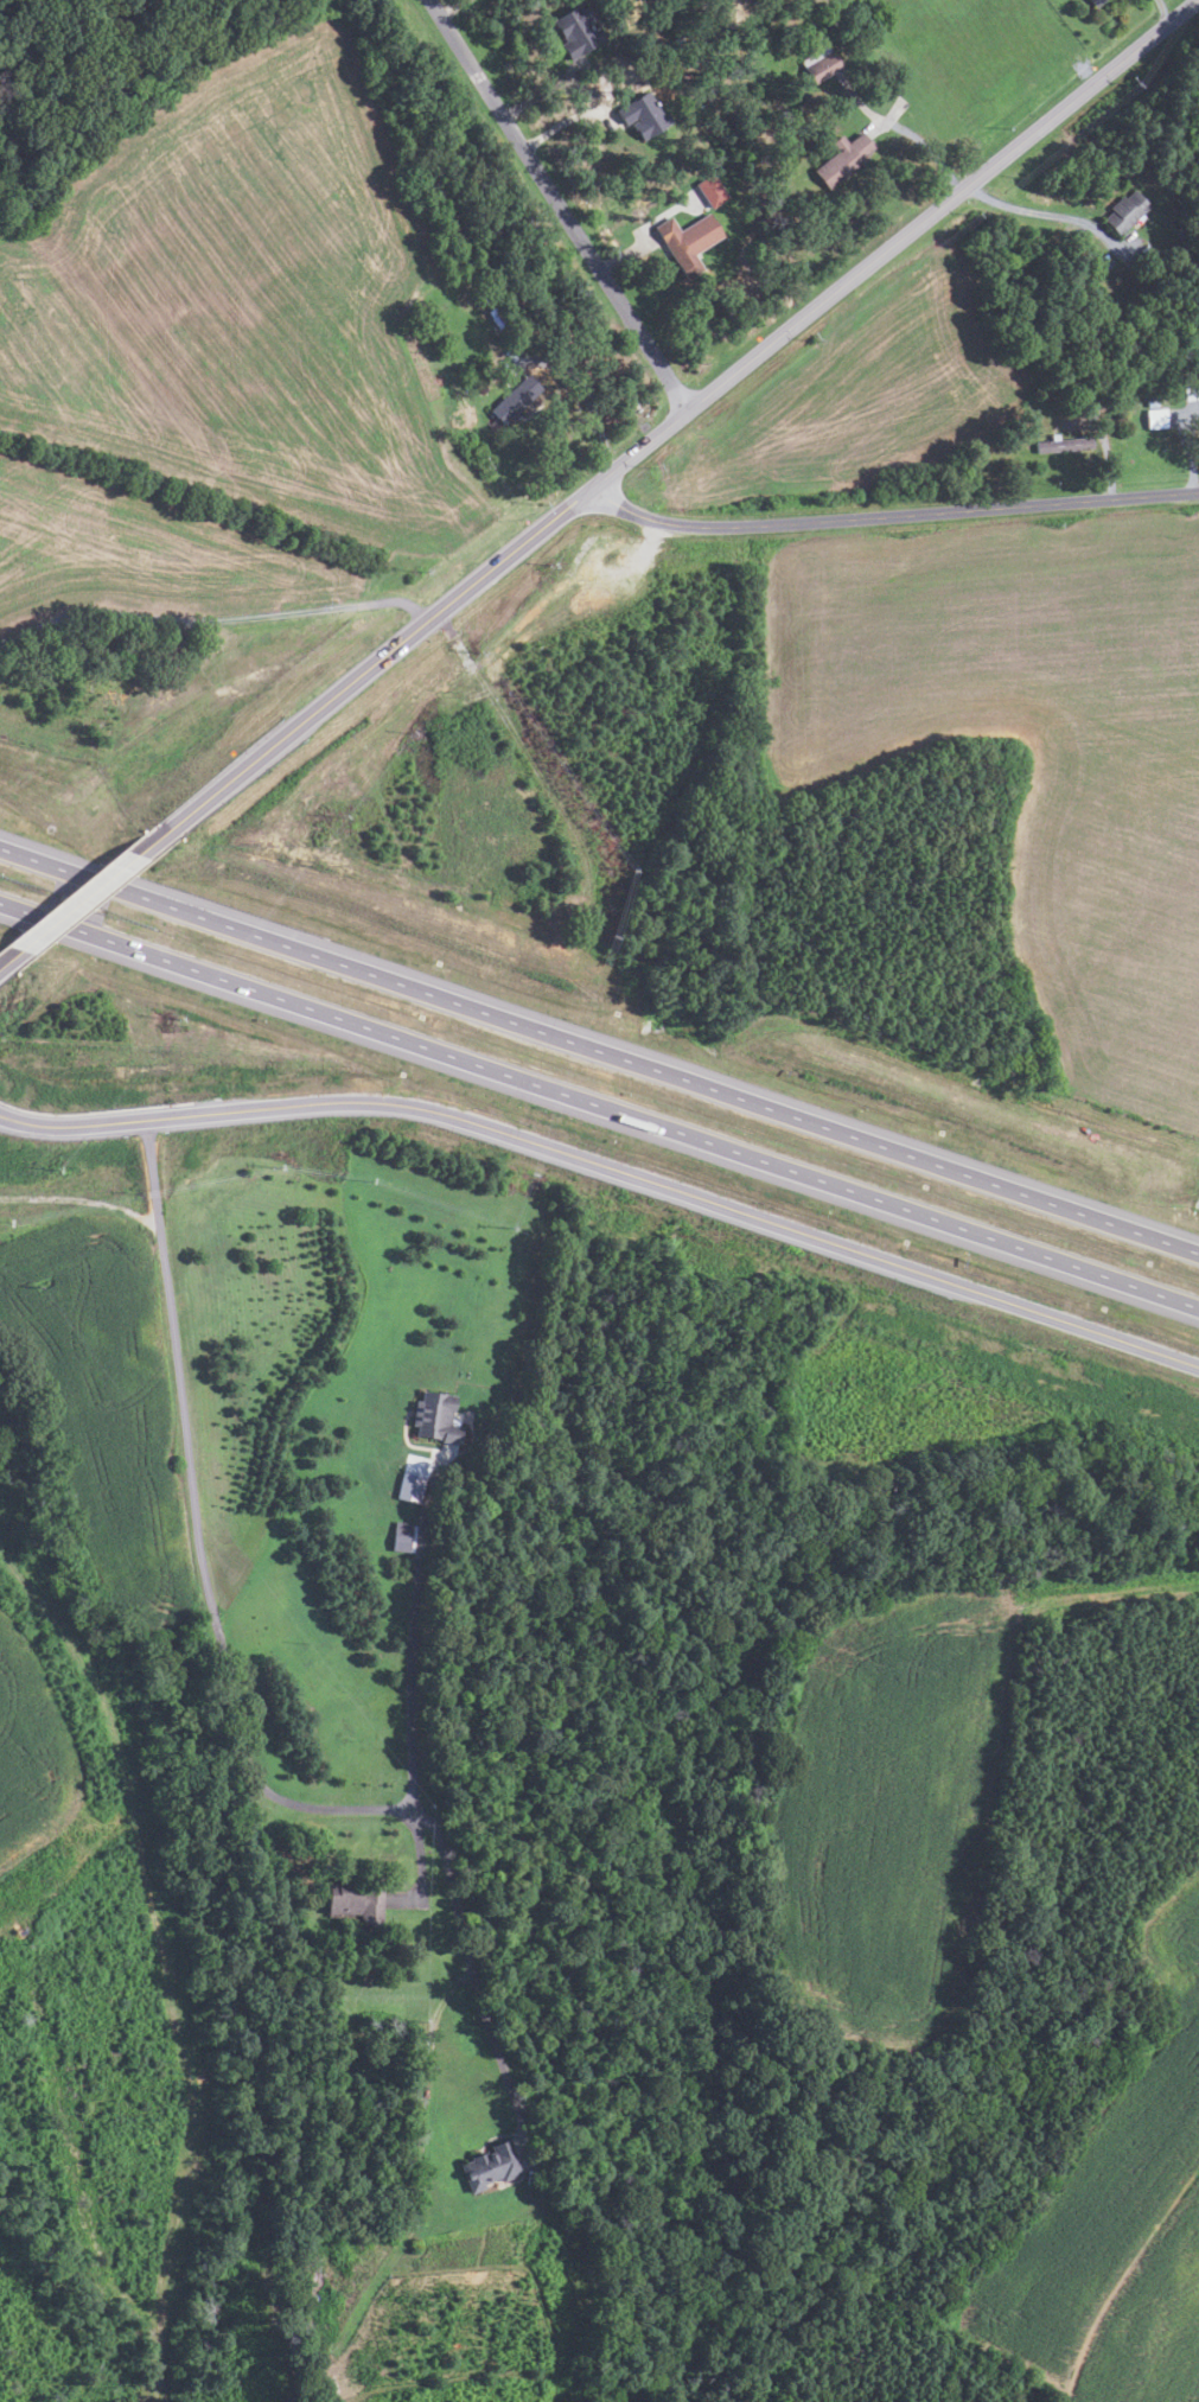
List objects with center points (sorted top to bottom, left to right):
building: (1093, 2)
road: (1162, 8)
road: (452, 9)
building: (576, 31)
building: (819, 64)
road: (541, 90)
building: (643, 115)
road: (566, 120)
road: (924, 146)
building: (842, 159)
building: (712, 190)
road: (556, 203)
road: (1027, 209)
building: (1125, 212)
building: (688, 242)
road: (624, 253)
crop: (243, 302)
building: (498, 321)
building: (439, 329)
building: (1191, 389)
building: (516, 399)
building: (1152, 402)
road: (593, 410)
building: (1156, 419)
road: (656, 431)
building: (1065, 446)
road: (1104, 447)
road: (1192, 458)
road: (889, 512)
crop: (135, 555)
road: (212, 620)
crop: (1028, 750)
road: (76, 898)
road: (15, 947)
road: (599, 1046)
road: (599, 1101)
road: (610, 1162)
building: (435, 1417)
road: (203, 1534)
building: (402, 1537)
road: (410, 1636)
crop: (886, 1797)
building: (355, 1899)
road: (468, 1952)
building: (491, 2166)

